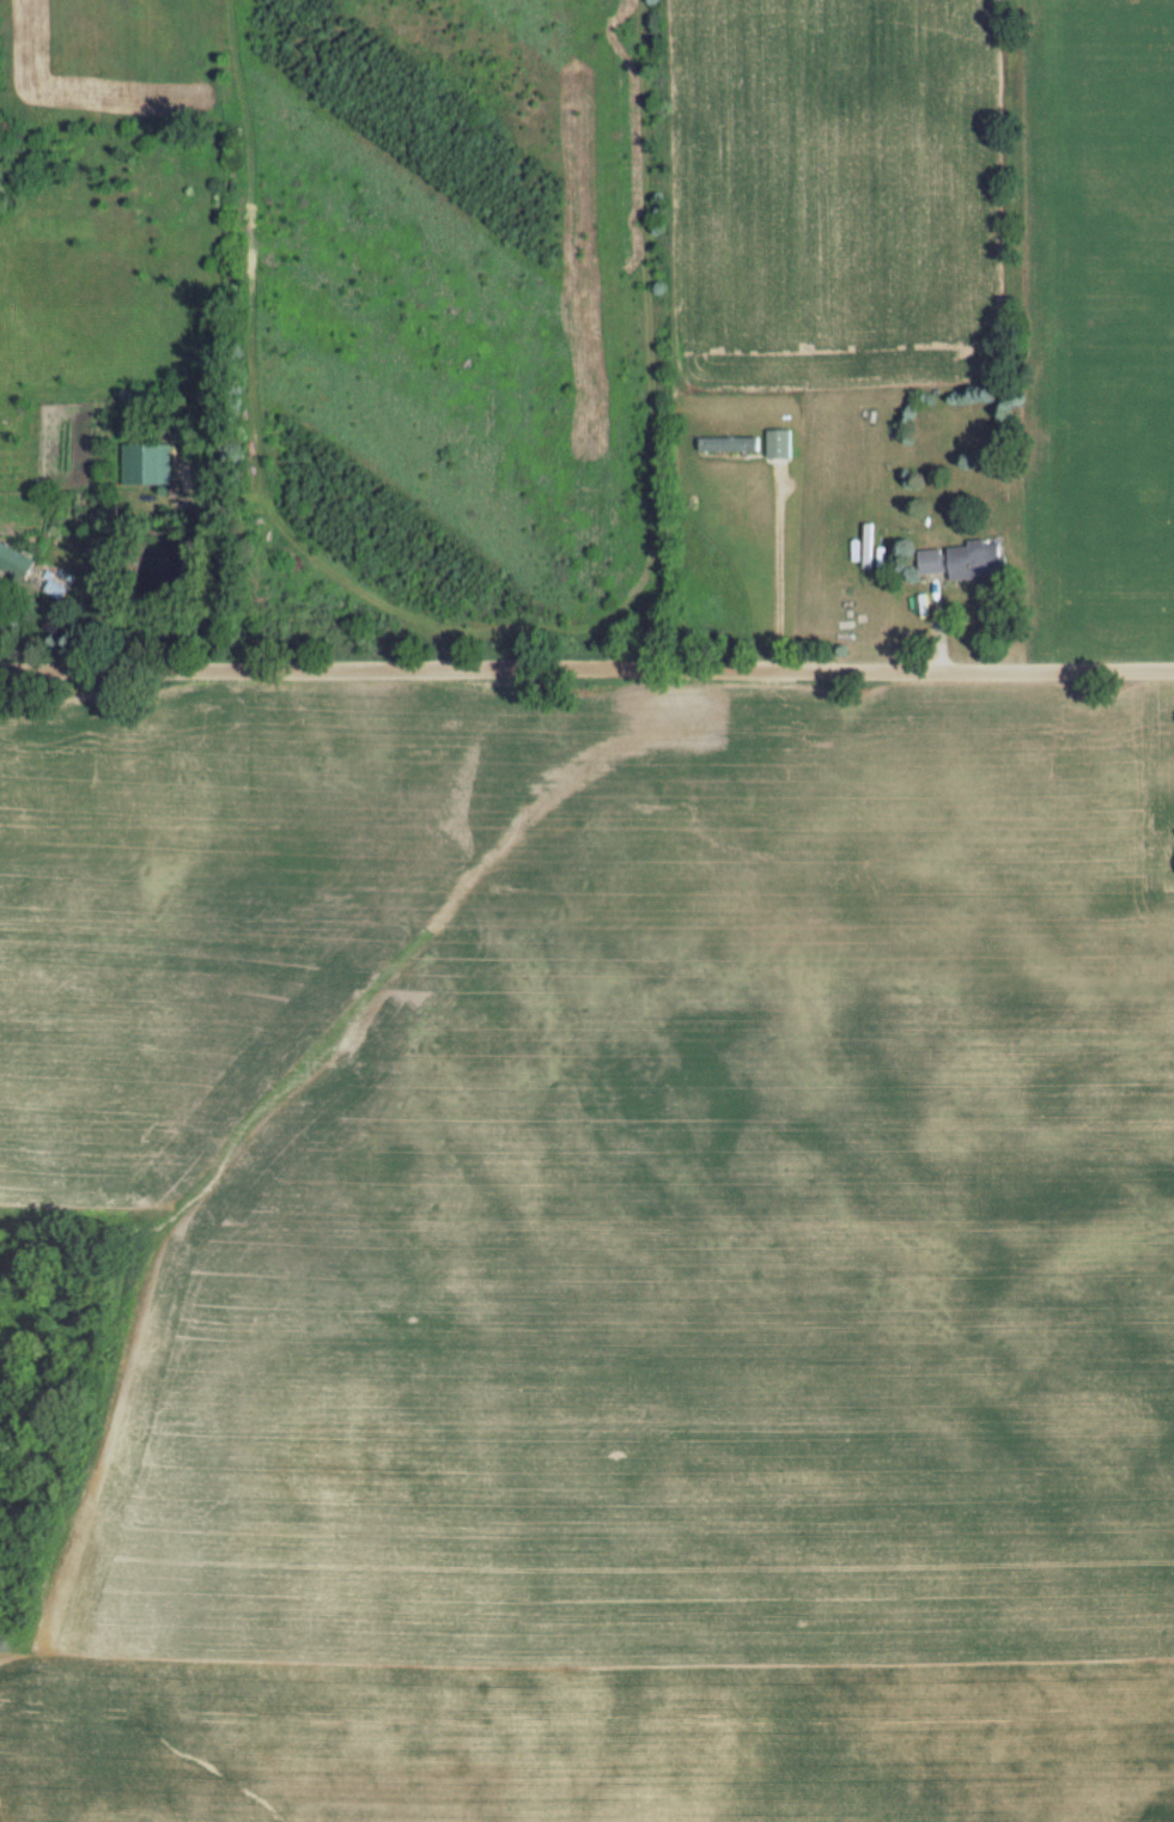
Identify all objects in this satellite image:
building: (775, 443)
building: (725, 444)
building: (138, 463)
building: (971, 560)
building: (927, 561)
building: (12, 563)
road: (777, 572)
road: (586, 670)

